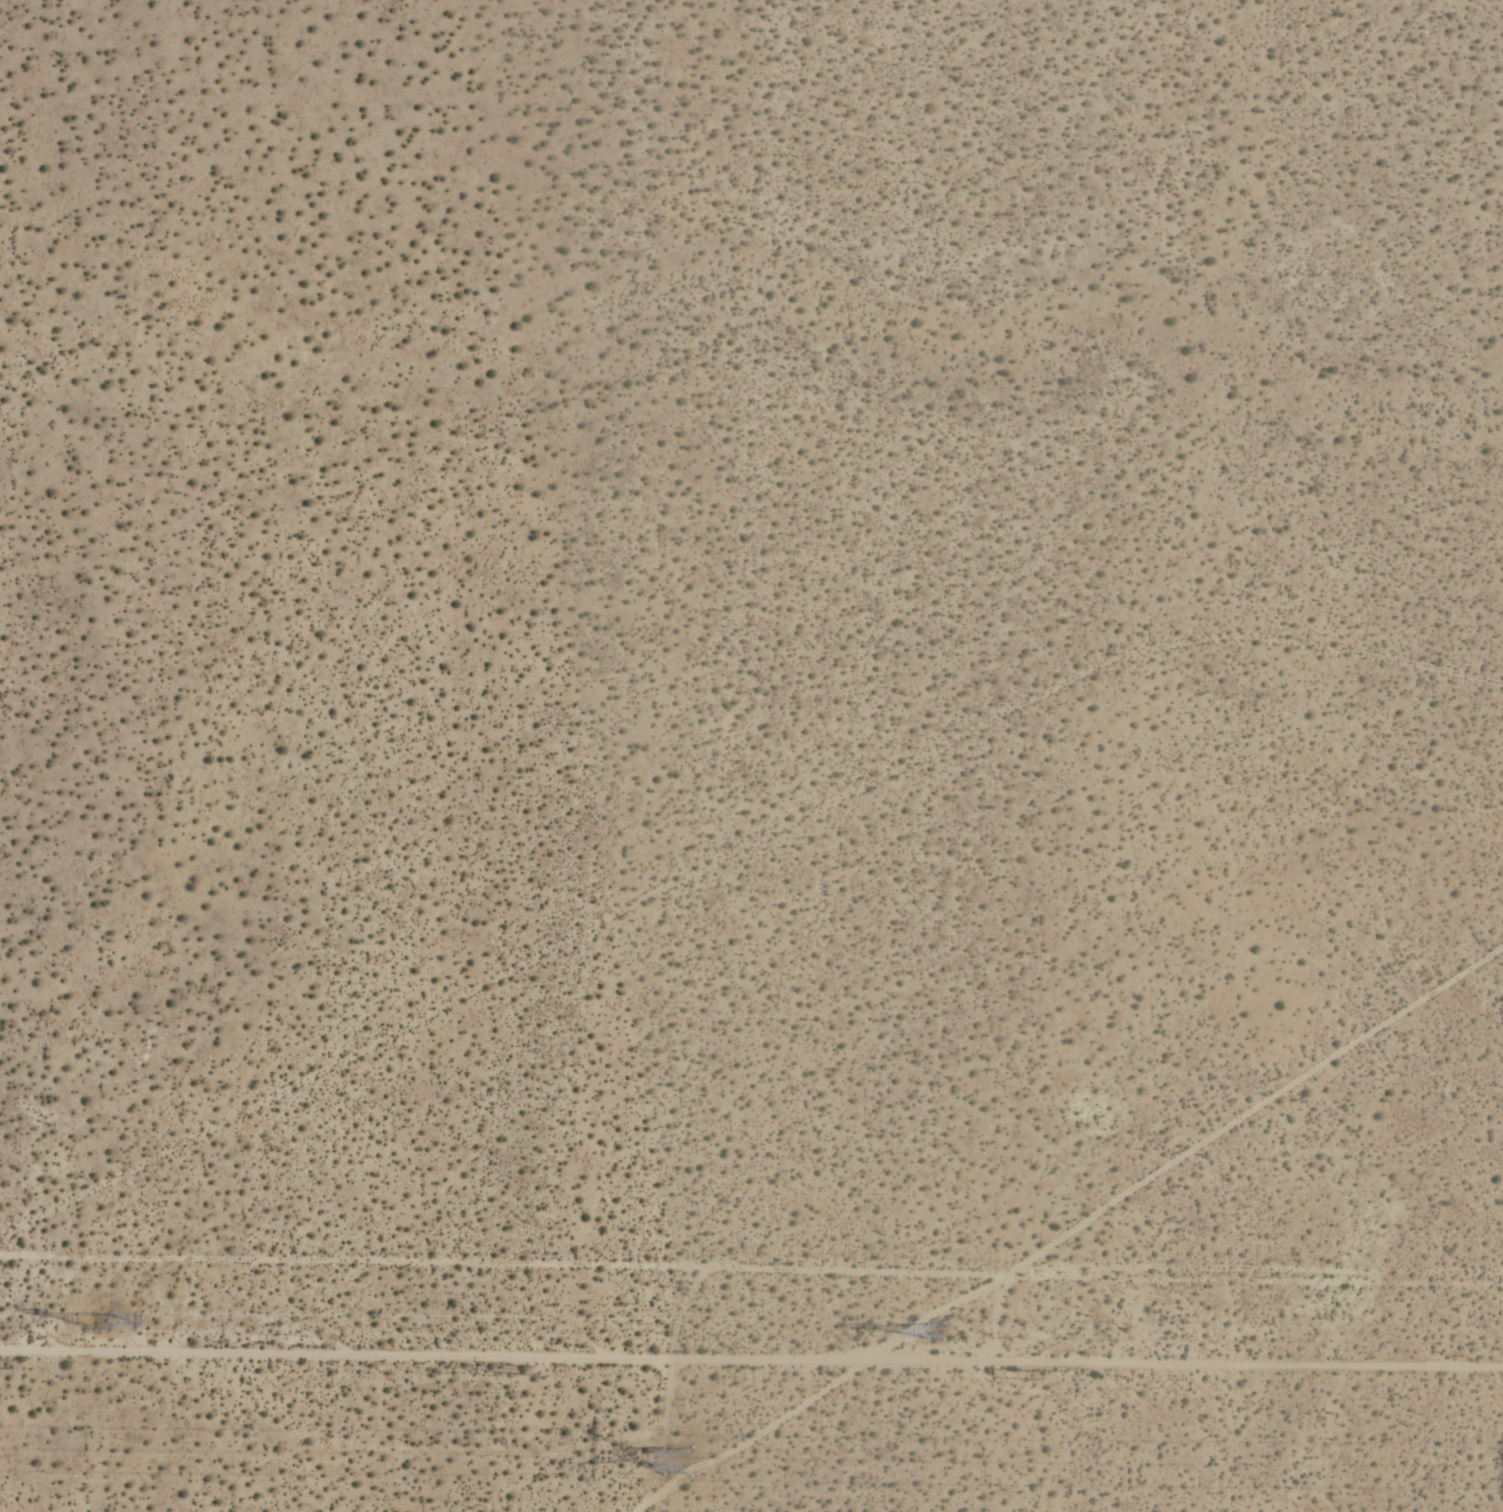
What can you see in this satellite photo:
road: (1070, 1227)
power tower: (101, 1322)
power tower: (960, 1340)
road: (751, 1361)
power tower: (518, 1372)
power tower: (1037, 1375)
power tower: (671, 1451)

